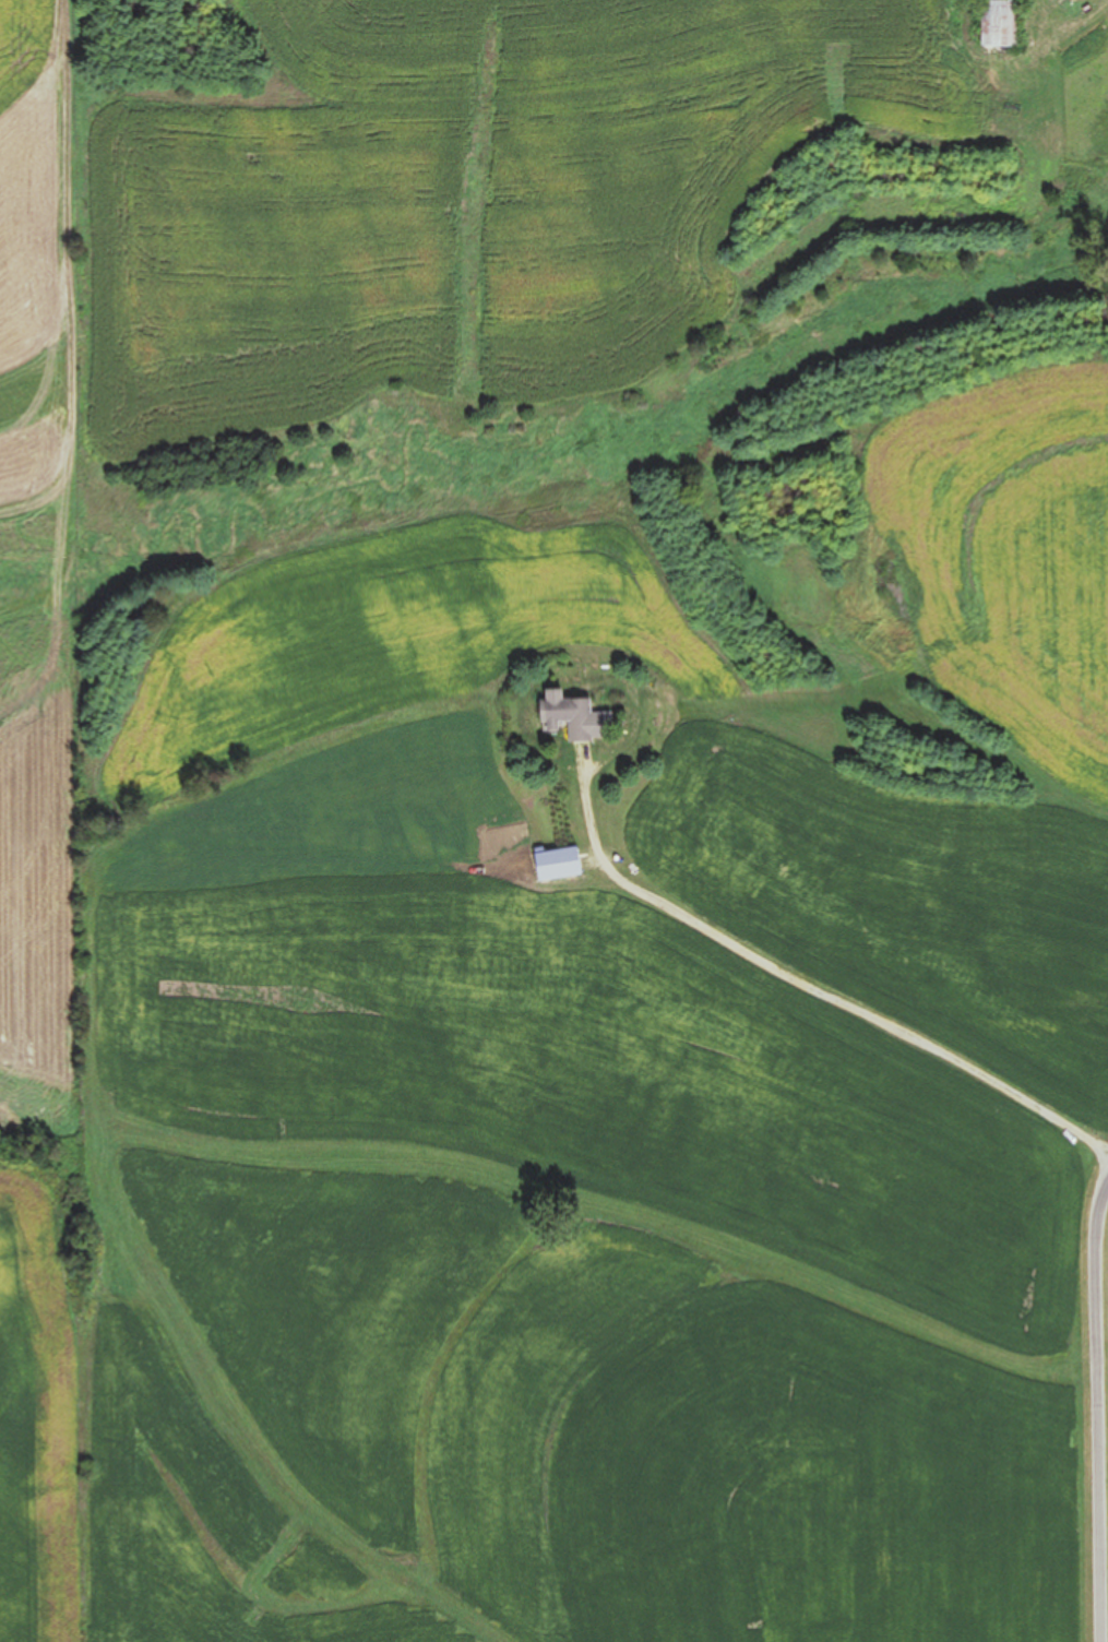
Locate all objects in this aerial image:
building: (997, 24)
building: (565, 717)
building: (555, 864)
road: (813, 987)
road: (1106, 1305)

